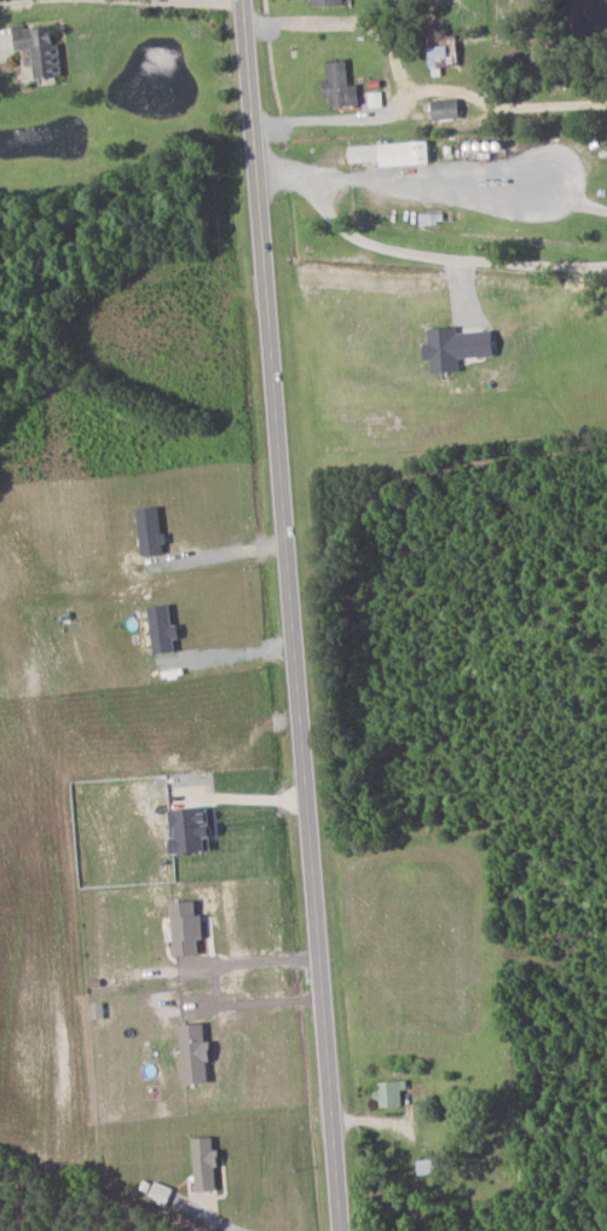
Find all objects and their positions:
road: (195, 1)
building: (329, 2)
building: (42, 48)
building: (445, 57)
road: (427, 82)
building: (342, 85)
building: (450, 109)
building: (395, 154)
building: (434, 219)
road: (411, 250)
building: (461, 348)
road: (293, 614)
building: (198, 828)
building: (191, 927)
road: (262, 1000)
building: (198, 1053)
building: (392, 1093)
building: (208, 1164)
road: (232, 1224)

